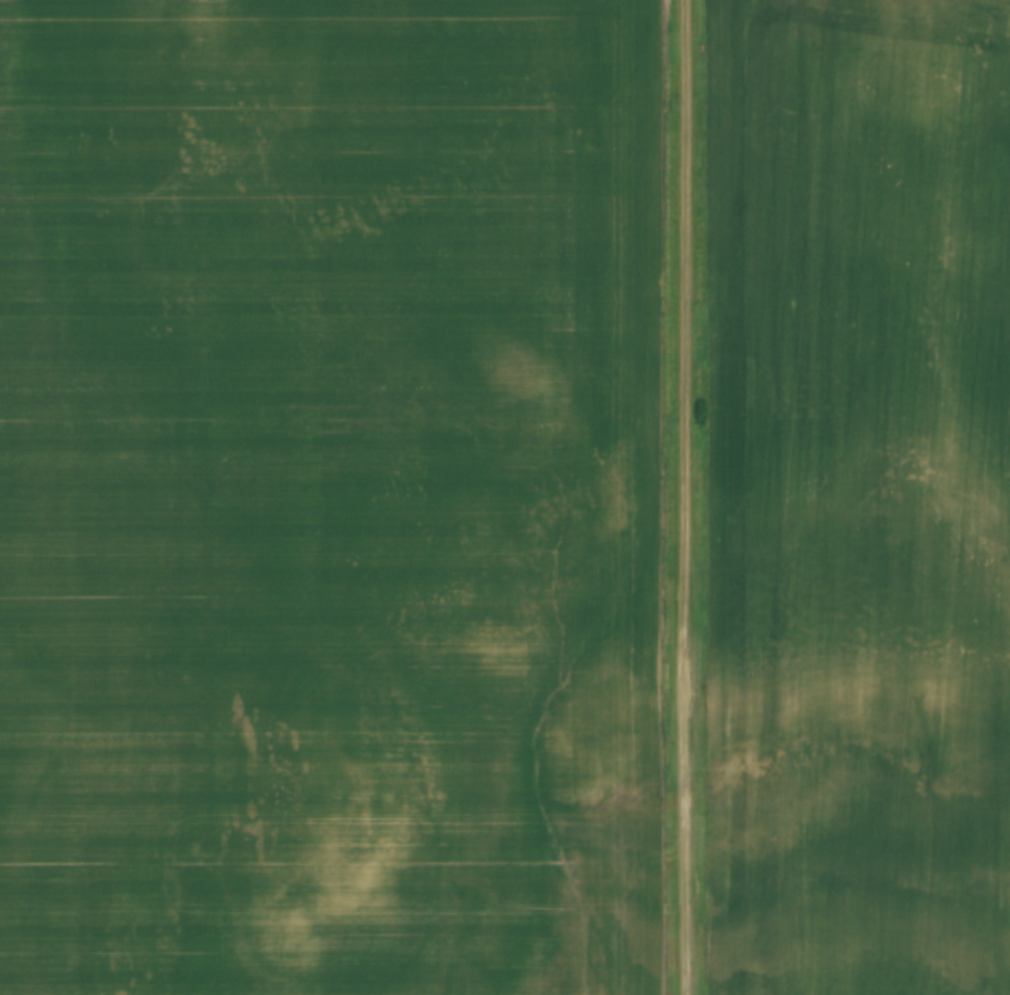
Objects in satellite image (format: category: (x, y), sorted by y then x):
road: (689, 497)

